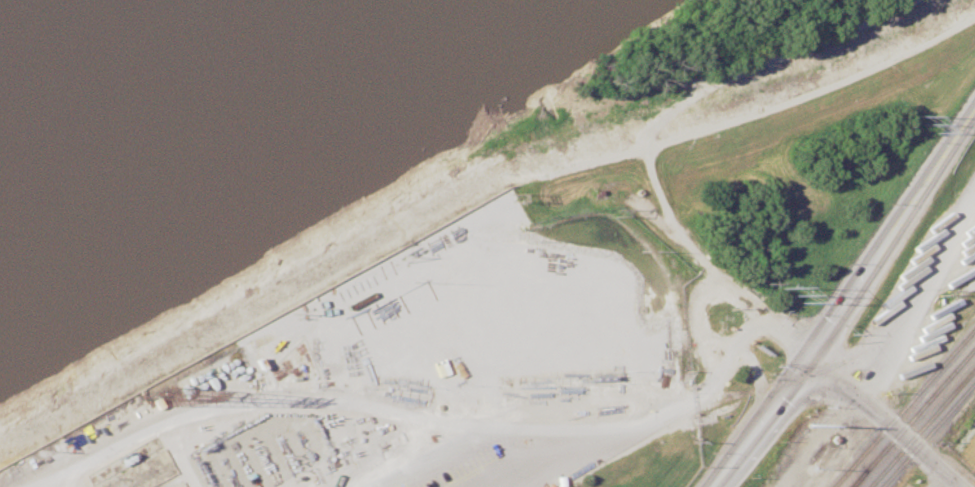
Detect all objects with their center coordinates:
river: (5, 3)
power tower: (925, 125)
power tower: (793, 296)
road: (917, 297)
road: (842, 303)
road: (693, 320)
road: (785, 336)
road: (754, 373)
road: (252, 401)
railway: (903, 406)
railway: (911, 416)
power tower: (811, 425)
railway: (920, 425)
road: (581, 430)
railway: (927, 433)
railway: (856, 478)
road: (938, 479)
road: (45, 480)
road: (356, 480)

